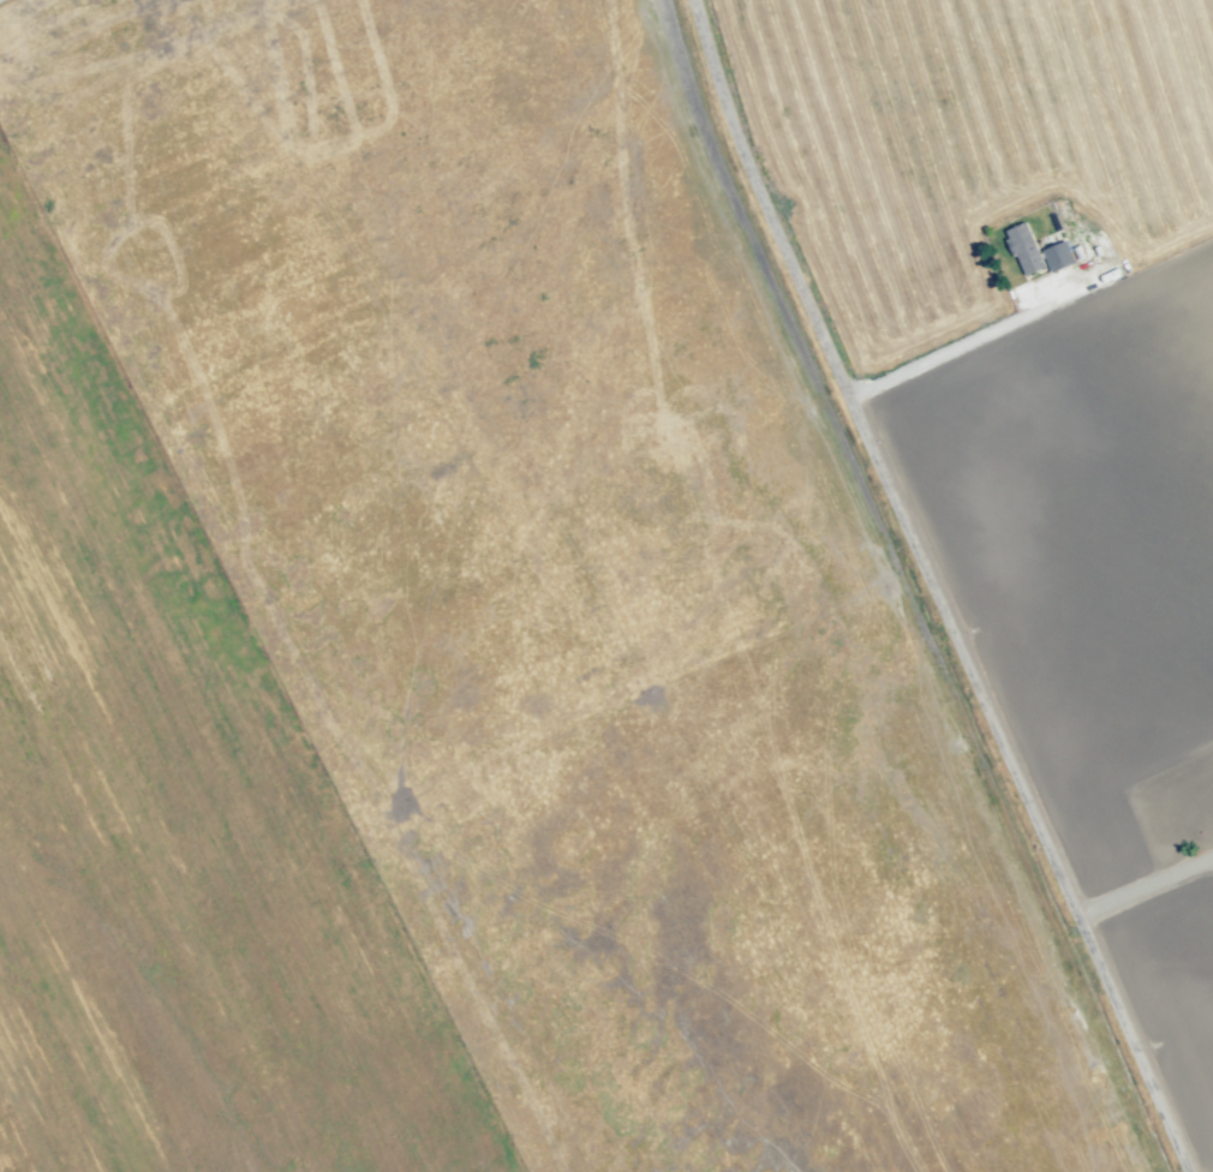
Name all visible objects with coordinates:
road: (2, 1)
crop: (14, 8)
building: (1023, 249)
building: (1058, 257)
crop: (418, 291)
crop: (1040, 387)
road: (925, 588)
crop: (168, 839)
road: (1141, 886)

